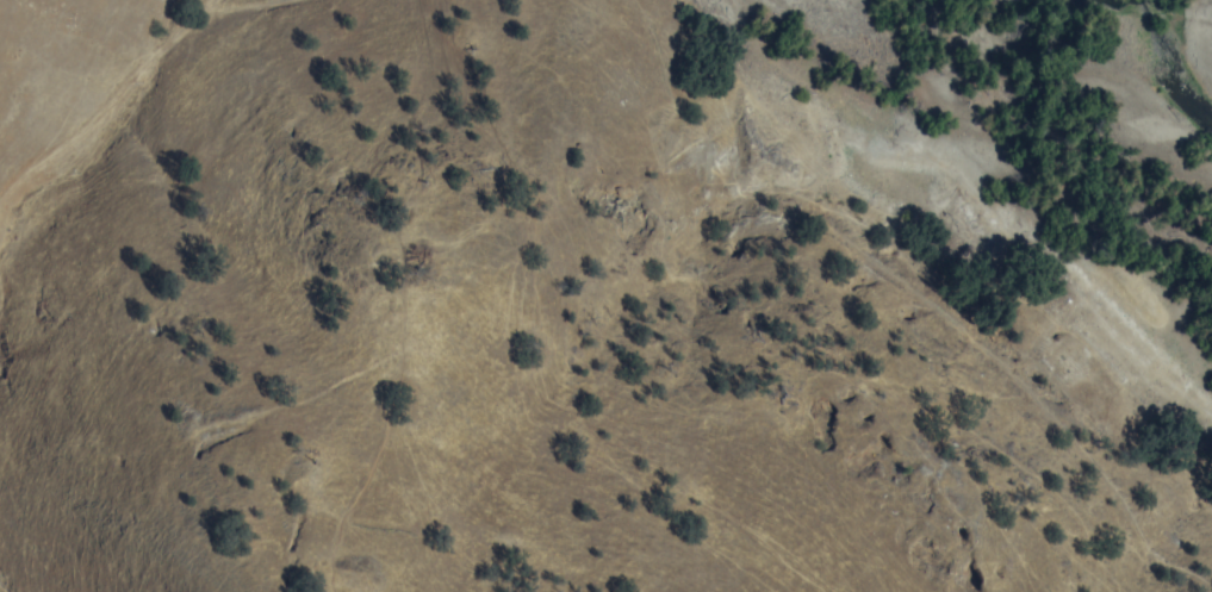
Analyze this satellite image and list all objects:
river: (1171, 58)

